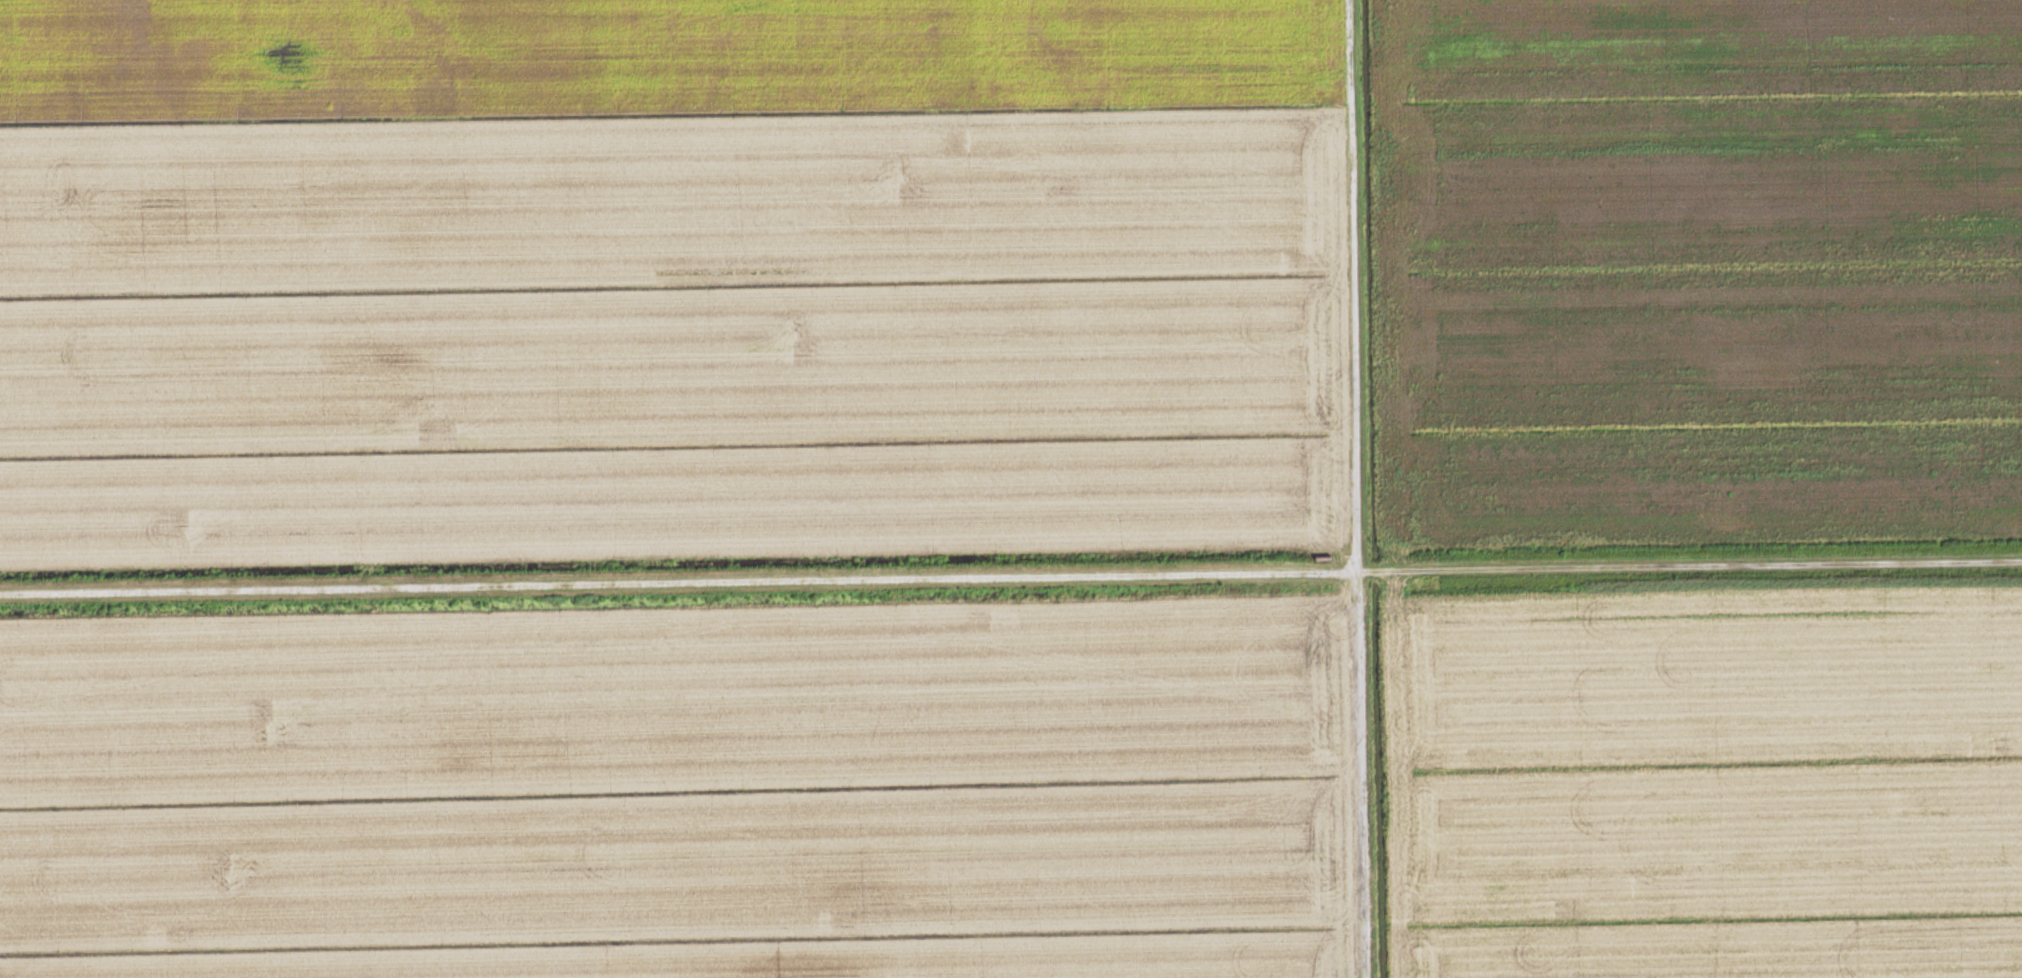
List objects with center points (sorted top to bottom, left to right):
crop: (1696, 270)
crop: (668, 279)
road: (1362, 488)
crop: (1705, 784)
crop: (688, 792)

